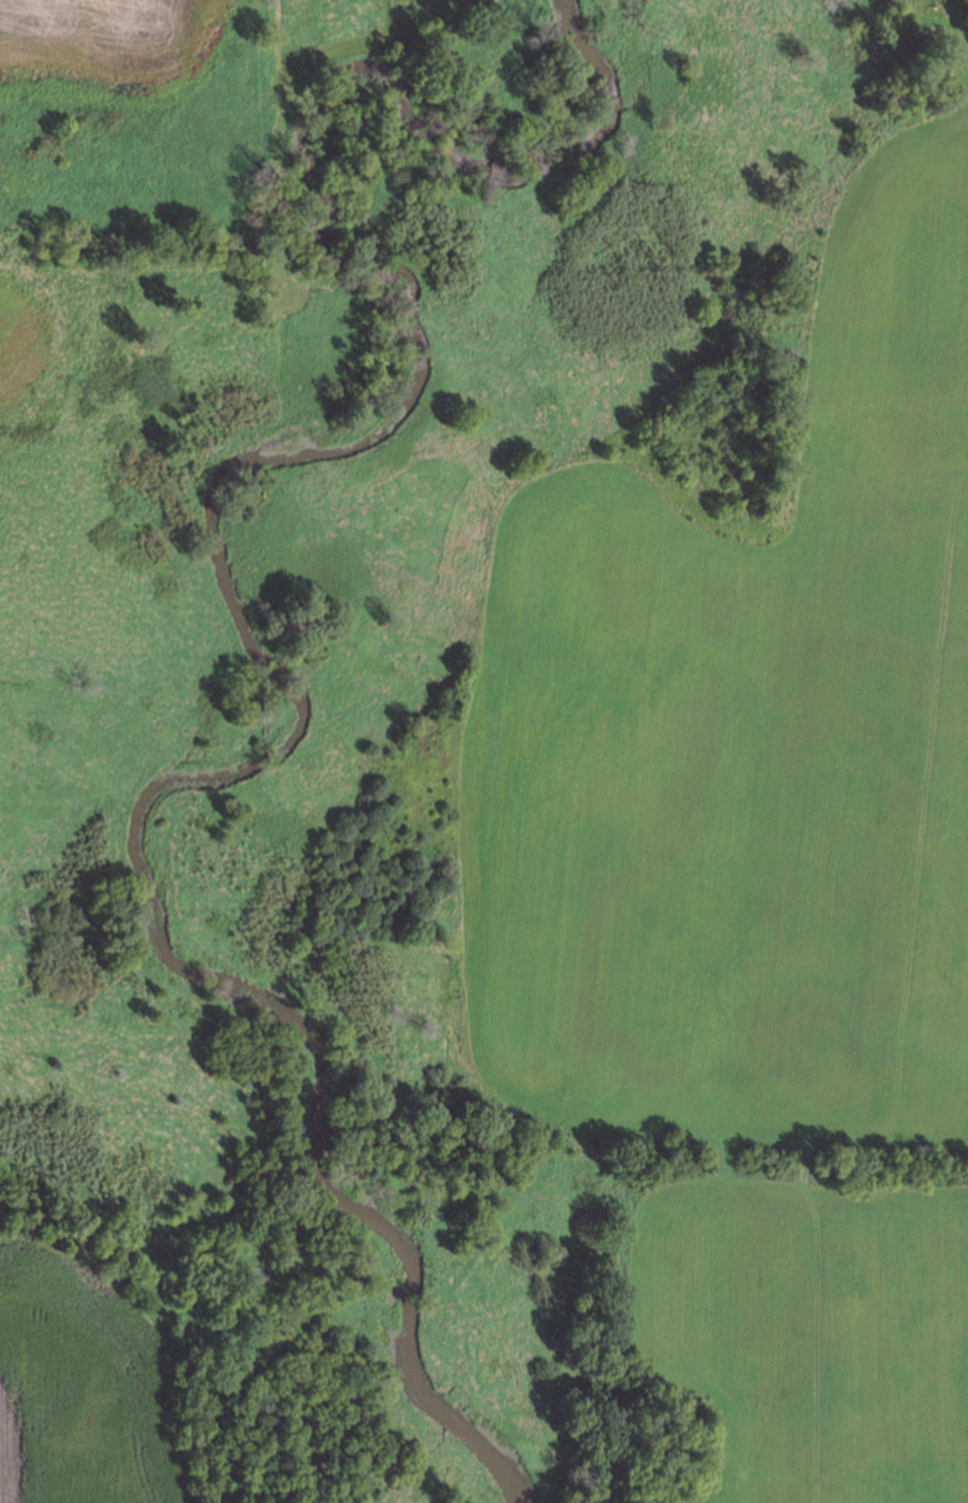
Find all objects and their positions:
river: (244, 624)

